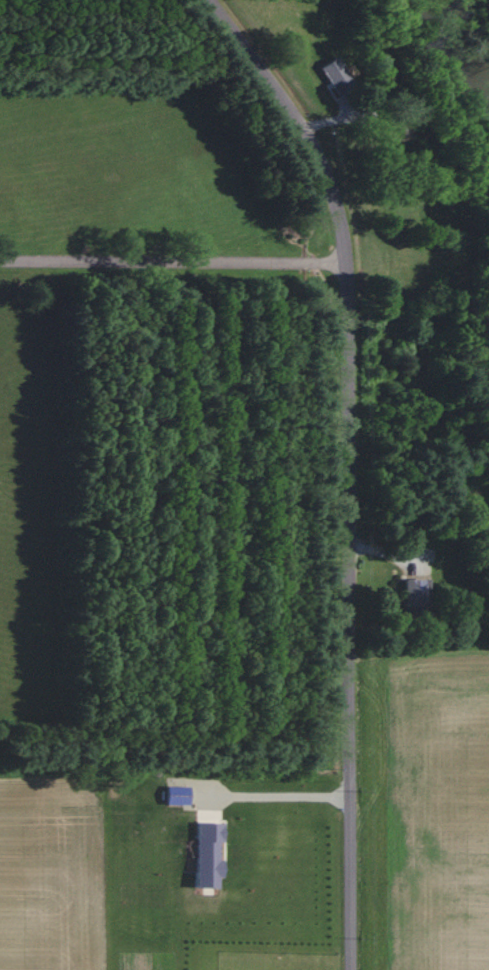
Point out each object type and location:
river: (469, 38)
road: (173, 259)
road: (349, 465)
building: (412, 592)
building: (174, 796)
building: (204, 855)

